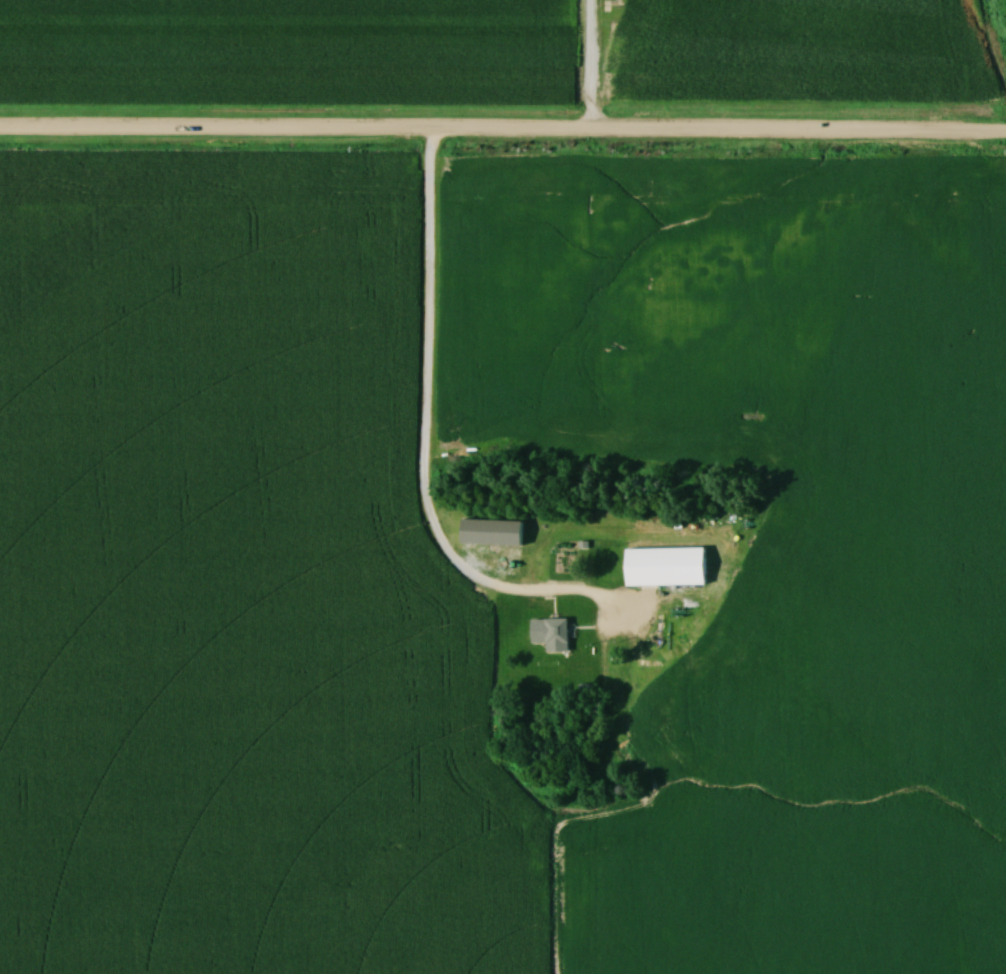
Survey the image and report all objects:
road: (587, 64)
road: (503, 128)
road: (421, 446)
building: (493, 533)
building: (667, 568)
building: (552, 635)

